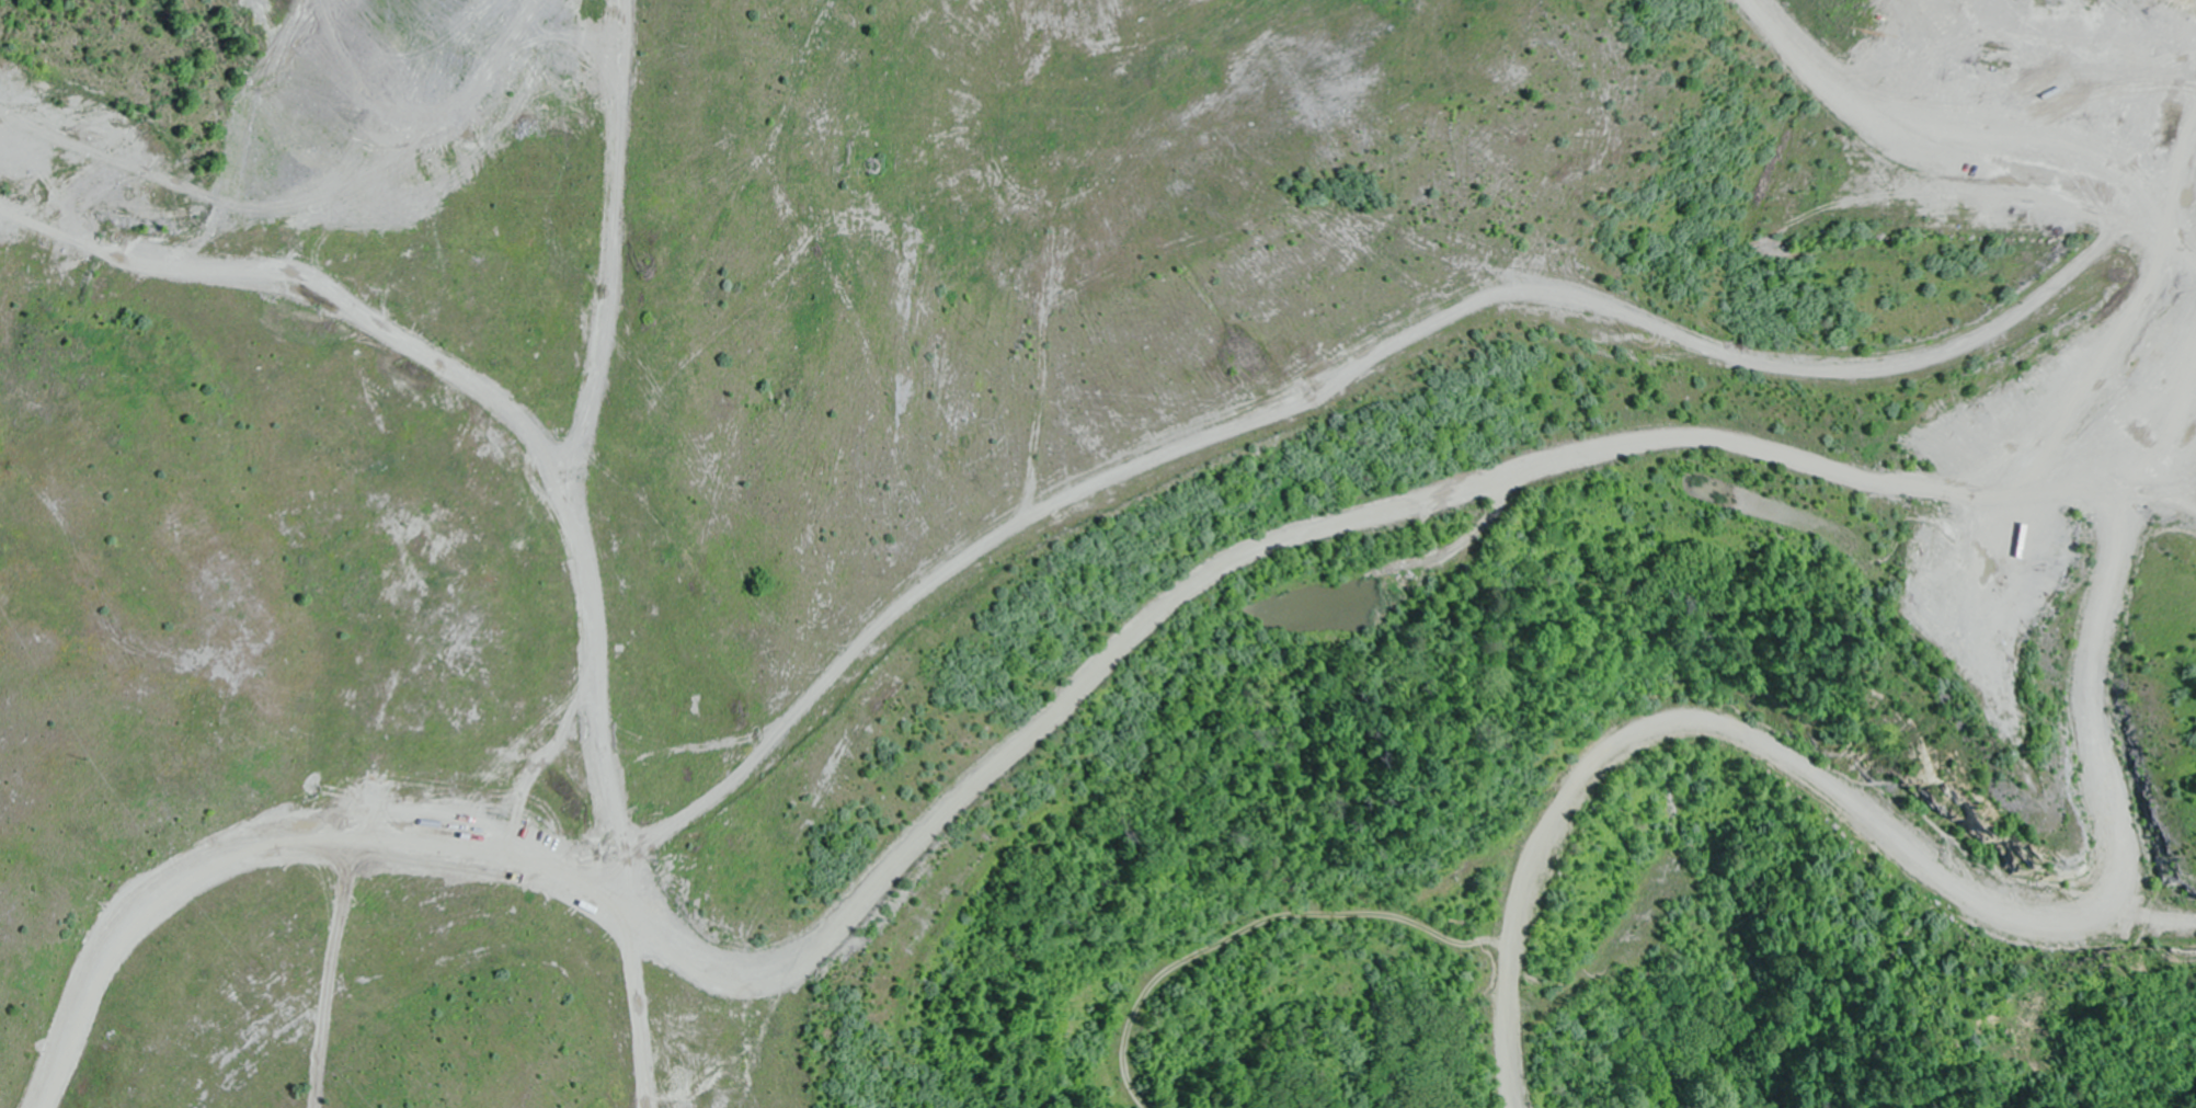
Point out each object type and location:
building: (2186, 20)
building: (1941, 613)

